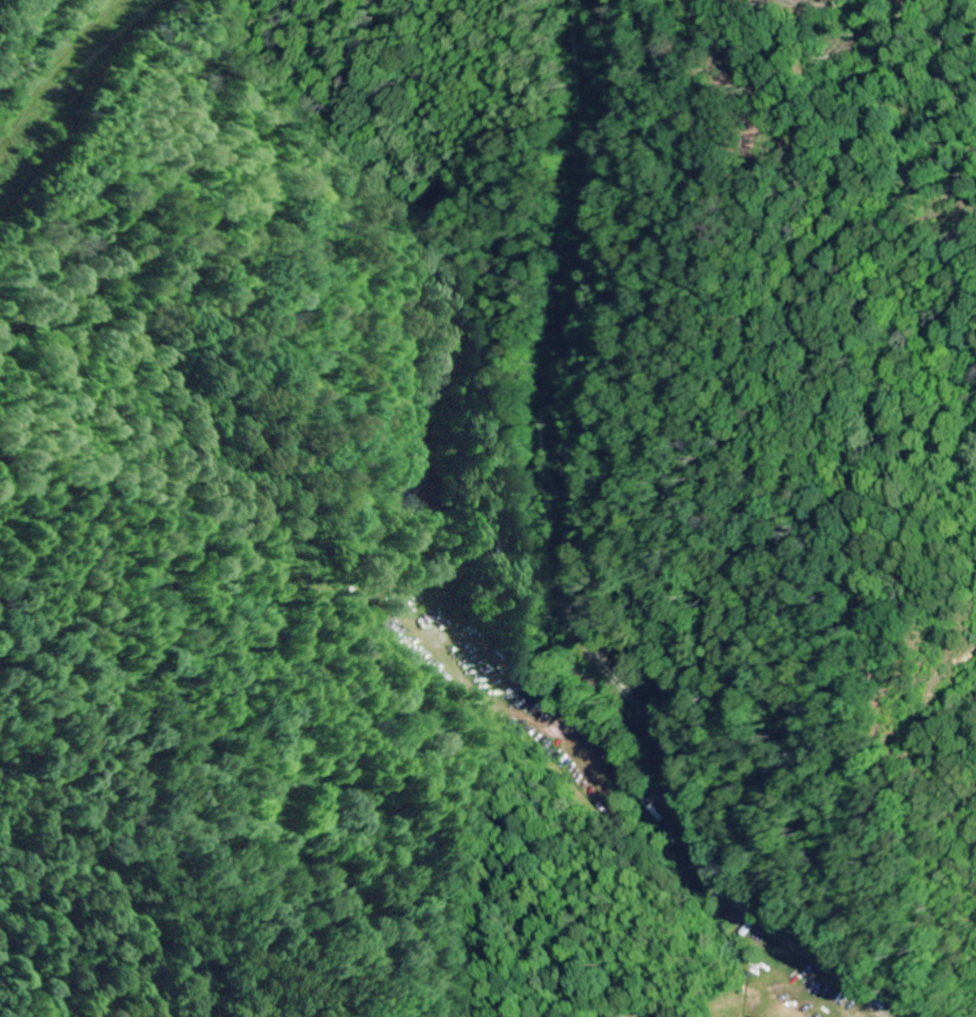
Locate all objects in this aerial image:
road: (821, 967)

